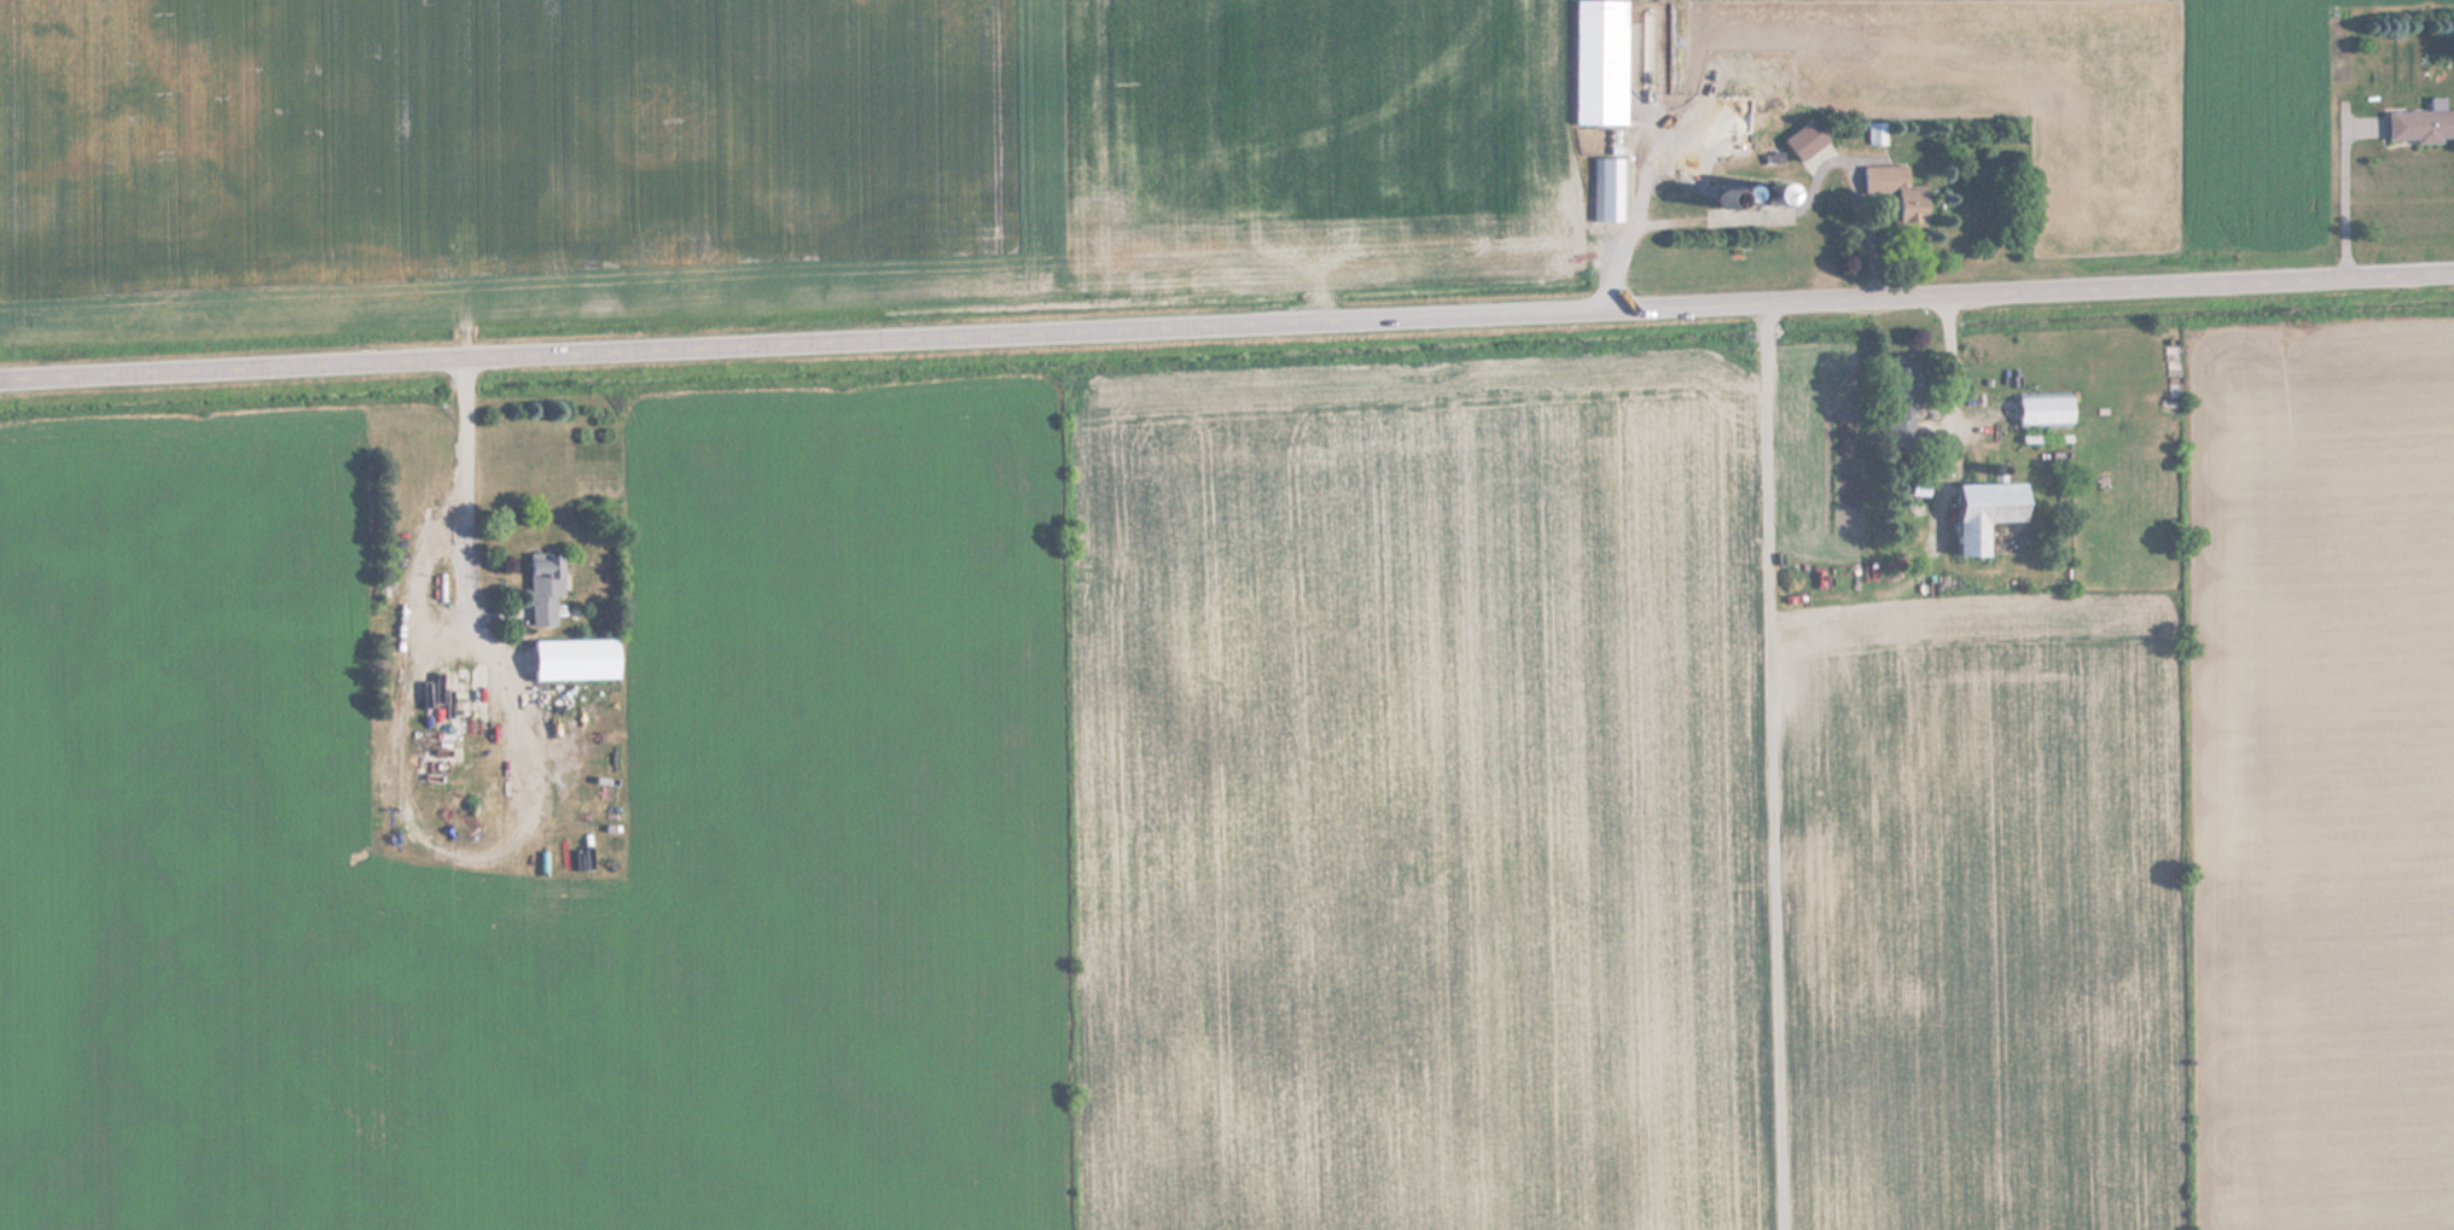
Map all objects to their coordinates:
building: (1599, 66)
building: (2421, 123)
building: (1878, 132)
building: (1808, 139)
building: (1607, 190)
building: (1897, 192)
road: (1227, 327)
building: (1902, 403)
building: (2045, 410)
building: (1987, 513)
building: (543, 589)
building: (575, 660)

